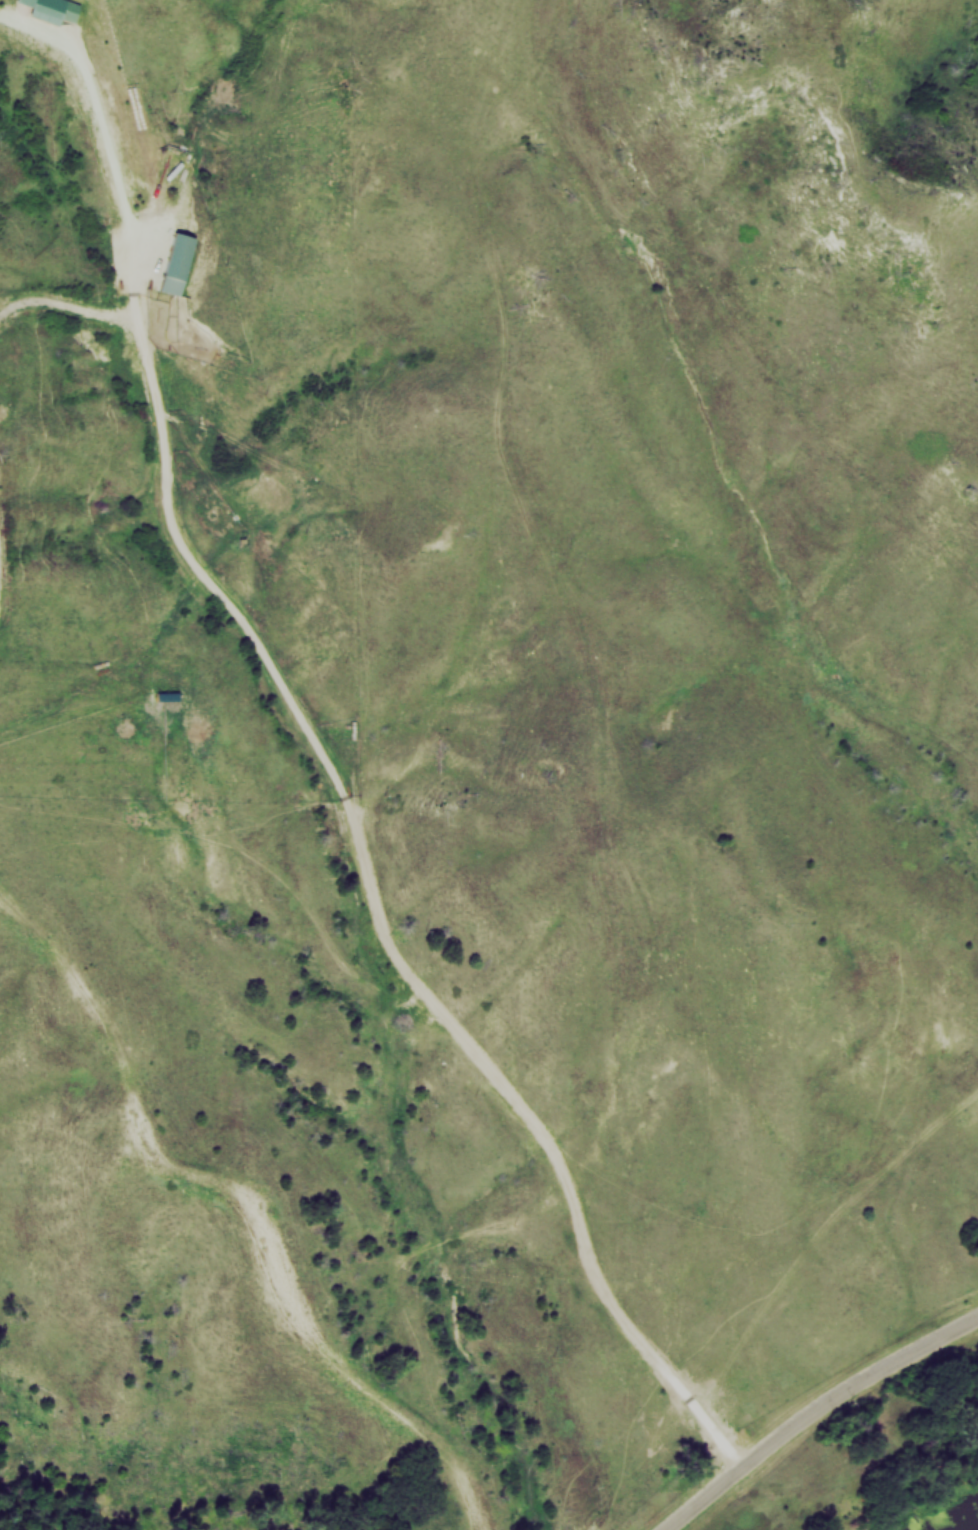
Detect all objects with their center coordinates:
building: (52, 9)
building: (177, 263)
building: (169, 696)
road: (815, 1415)

